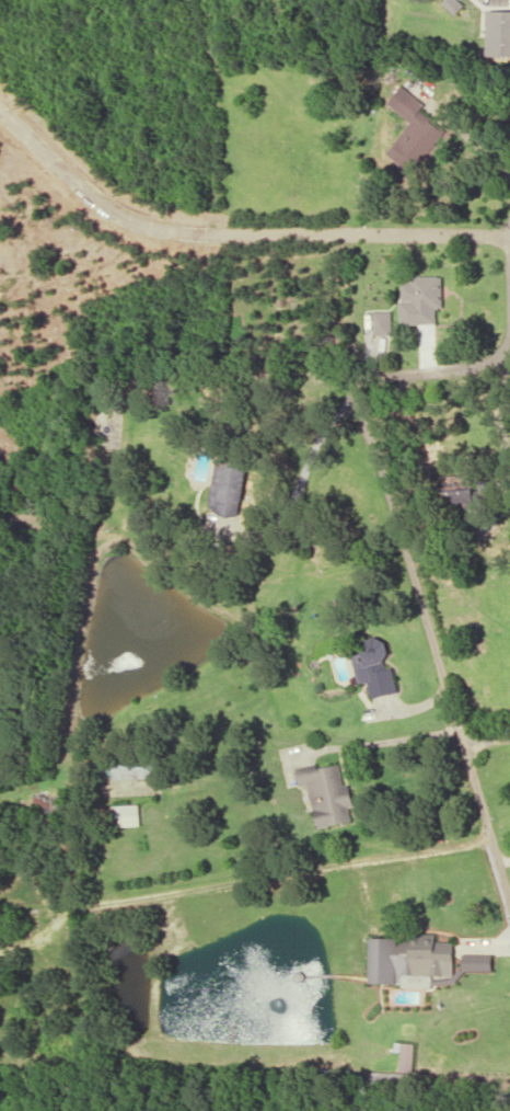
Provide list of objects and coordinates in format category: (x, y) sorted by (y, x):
building: (453, 5)
building: (498, 33)
building: (412, 130)
road: (232, 233)
road: (509, 240)
building: (420, 299)
building: (381, 322)
building: (228, 486)
road: (410, 572)
building: (374, 668)
building: (132, 771)
building: (326, 793)
building: (43, 806)
building: (126, 815)
building: (408, 961)
building: (475, 961)
building: (405, 1056)
building: (385, 1078)

